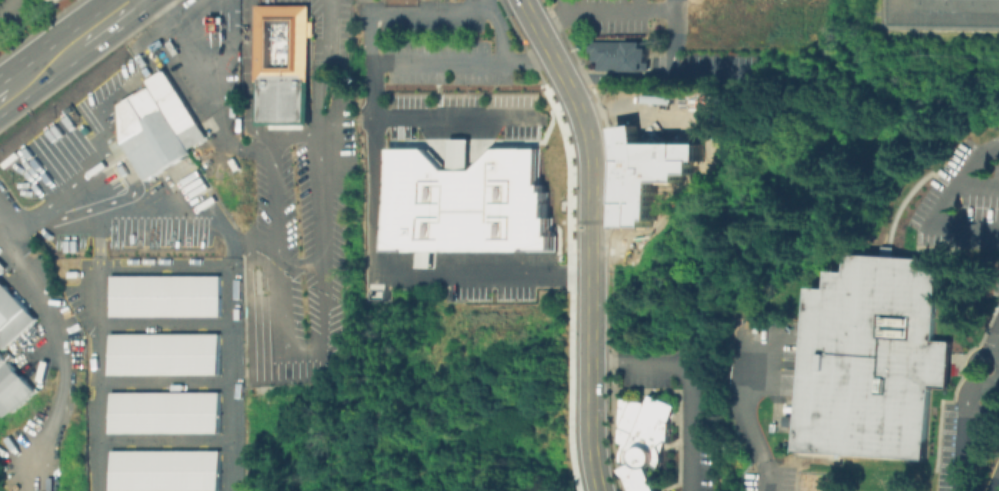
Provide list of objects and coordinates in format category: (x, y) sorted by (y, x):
building: (49, 1)
road: (635, 5)
road: (565, 6)
road: (11, 10)
road: (600, 11)
power substation: (942, 12)
road: (107, 18)
building: (212, 22)
road: (200, 32)
road: (494, 32)
road: (673, 36)
road: (225, 37)
building: (620, 57)
road: (383, 63)
building: (281, 64)
road: (41, 65)
road: (202, 76)
road: (659, 78)
road: (5, 86)
street lamp: (394, 90)
street lamp: (466, 90)
street lamp: (622, 107)
building: (174, 108)
street lamp: (560, 110)
road: (93, 112)
road: (211, 112)
road: (451, 115)
street lamp: (548, 116)
road: (645, 116)
parking lot: (673, 117)
building: (148, 133)
building: (647, 173)
road: (960, 178)
street lamp: (607, 198)
building: (466, 200)
road: (60, 201)
road: (146, 203)
road: (943, 222)
road: (589, 238)
road: (299, 263)
building: (2, 266)
road: (380, 270)
building: (163, 295)
street lamp: (607, 303)
road: (226, 314)
building: (12, 316)
road: (162, 325)
road: (994, 339)
road: (60, 348)
road: (297, 351)
building: (162, 353)
building: (2, 359)
road: (995, 360)
building: (874, 361)
road: (968, 374)
road: (687, 376)
road: (98, 378)
road: (163, 382)
building: (13, 388)
building: (163, 411)
road: (961, 424)
road: (754, 437)
road: (164, 441)
building: (645, 441)
building: (162, 470)
building: (787, 485)
road: (996, 486)

